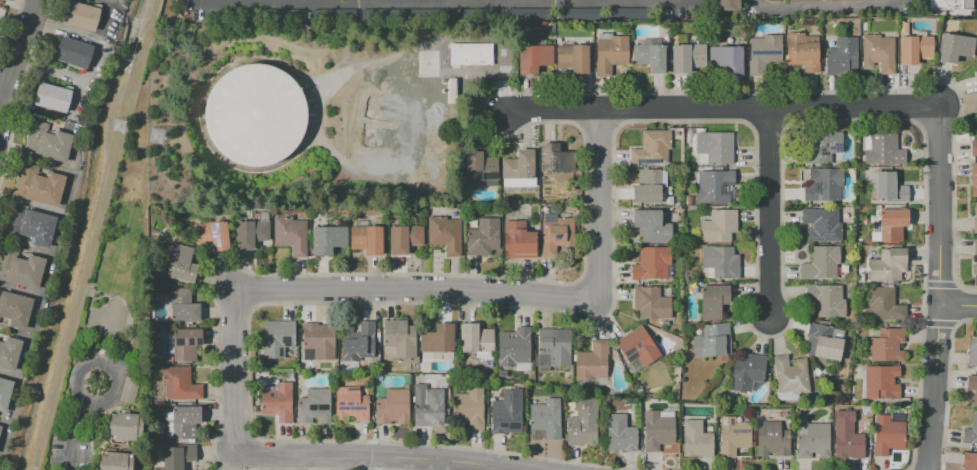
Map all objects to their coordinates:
building: (802, 0)
building: (842, 0)
road: (590, 1)
road: (306, 3)
road: (438, 4)
building: (727, 4)
building: (950, 5)
road: (827, 7)
building: (577, 13)
building: (625, 13)
building: (526, 14)
building: (81, 16)
road: (12, 29)
building: (955, 47)
building: (915, 49)
building: (802, 51)
building: (74, 52)
building: (611, 53)
building: (764, 53)
building: (878, 53)
building: (471, 54)
building: (650, 55)
building: (573, 56)
building: (841, 56)
road: (17, 57)
building: (688, 57)
building: (536, 60)
building: (726, 61)
building: (976, 75)
road: (12, 81)
road: (24, 87)
building: (52, 97)
road: (2, 101)
road: (622, 106)
road: (571, 107)
road: (717, 107)
road: (792, 107)
road: (748, 108)
building: (255, 116)
road: (7, 120)
road: (597, 122)
road: (769, 123)
power tower: (123, 126)
road: (613, 131)
power tower: (153, 138)
building: (47, 141)
road: (584, 143)
building: (711, 147)
building: (821, 147)
building: (973, 147)
building: (652, 148)
building: (883, 150)
building: (556, 159)
building: (480, 166)
building: (519, 166)
building: (868, 169)
building: (974, 179)
building: (824, 185)
building: (38, 186)
building: (648, 186)
building: (714, 187)
building: (889, 188)
building: (689, 200)
road: (595, 203)
road: (766, 210)
building: (974, 220)
building: (821, 224)
building: (651, 226)
building: (718, 226)
building: (889, 226)
building: (30, 227)
building: (252, 231)
building: (444, 234)
building: (555, 234)
building: (291, 235)
building: (212, 236)
building: (483, 237)
building: (404, 238)
building: (367, 239)
building: (519, 239)
building: (328, 240)
building: (975, 258)
building: (721, 262)
building: (820, 263)
building: (181, 264)
building: (651, 264)
building: (887, 266)
building: (20, 269)
building: (844, 269)
road: (938, 283)
road: (937, 288)
road: (412, 289)
building: (825, 300)
building: (712, 302)
building: (651, 303)
road: (955, 303)
building: (883, 304)
building: (182, 305)
road: (956, 306)
building: (15, 309)
road: (938, 323)
building: (277, 337)
building: (399, 339)
building: (318, 341)
building: (477, 341)
building: (712, 341)
building: (823, 341)
building: (358, 342)
building: (438, 343)
building: (170, 344)
building: (186, 344)
building: (886, 345)
building: (637, 347)
building: (554, 348)
building: (514, 349)
building: (972, 351)
building: (8, 353)
building: (592, 361)
road: (232, 370)
building: (747, 372)
building: (826, 372)
building: (816, 373)
building: (502, 374)
building: (566, 374)
building: (791, 374)
building: (289, 375)
road: (73, 379)
building: (881, 382)
building: (179, 383)
road: (946, 385)
building: (972, 387)
building: (127, 389)
building: (4, 393)
building: (785, 396)
building: (276, 400)
building: (350, 405)
building: (428, 405)
building: (314, 406)
building: (393, 407)
building: (469, 408)
building: (835, 410)
building: (508, 413)
building: (545, 419)
building: (182, 423)
building: (582, 423)
building: (126, 426)
building: (0, 427)
building: (658, 429)
building: (971, 432)
building: (620, 433)
road: (69, 434)
building: (887, 435)
building: (733, 436)
building: (696, 439)
building: (772, 439)
building: (811, 440)
building: (847, 441)
road: (376, 455)
building: (178, 456)
road: (418, 456)
road: (459, 458)
building: (116, 461)
building: (969, 461)
road: (436, 465)

